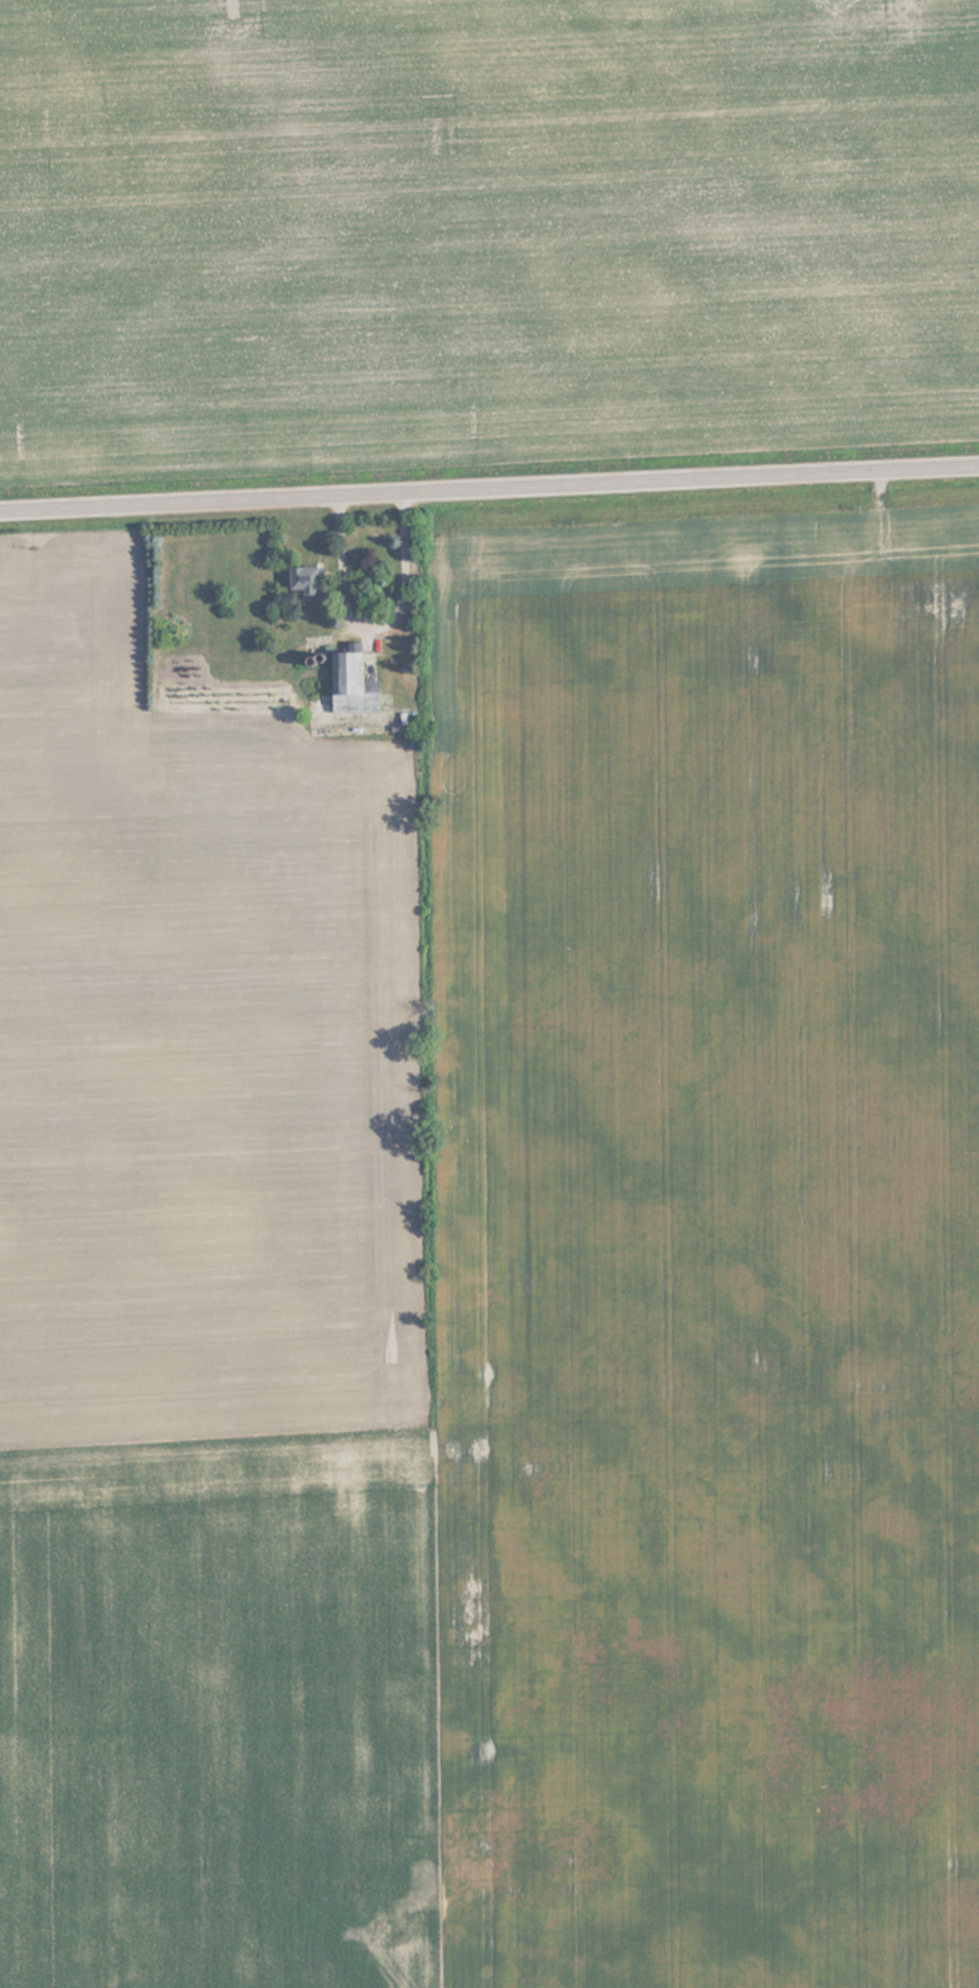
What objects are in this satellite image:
road: (489, 489)
building: (300, 580)
building: (347, 686)
building: (401, 1920)

